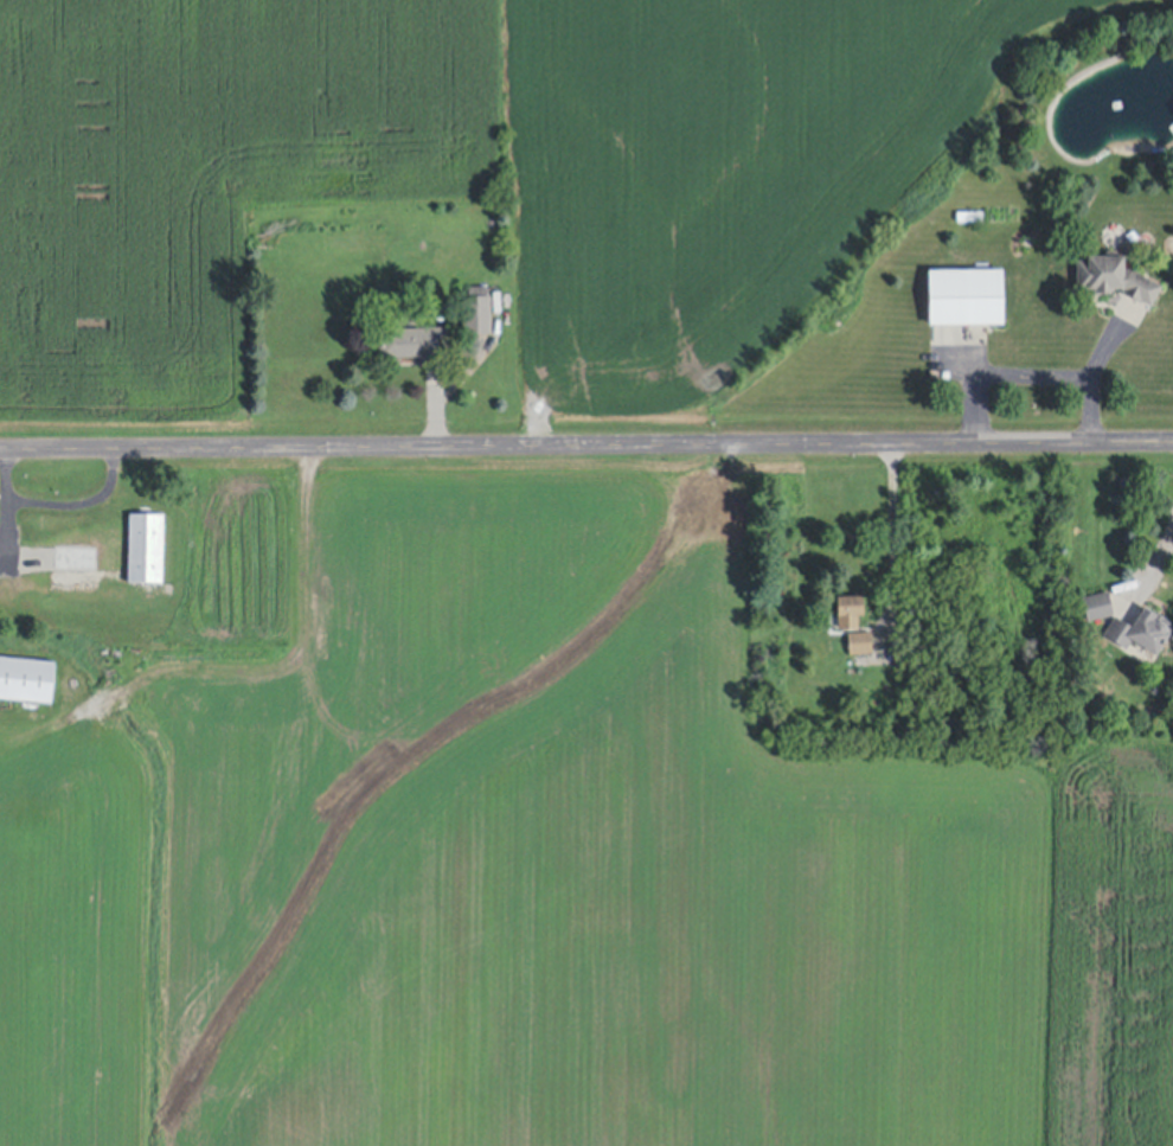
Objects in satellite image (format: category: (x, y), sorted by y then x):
building: (1113, 276)
building: (964, 295)
building: (476, 310)
building: (414, 342)
road: (1030, 371)
road: (586, 443)
road: (75, 504)
road: (1, 532)
road: (886, 537)
building: (134, 550)
road: (1159, 558)
building: (1096, 606)
building: (848, 610)
building: (1140, 630)
building: (859, 642)
road: (242, 670)
building: (26, 679)

